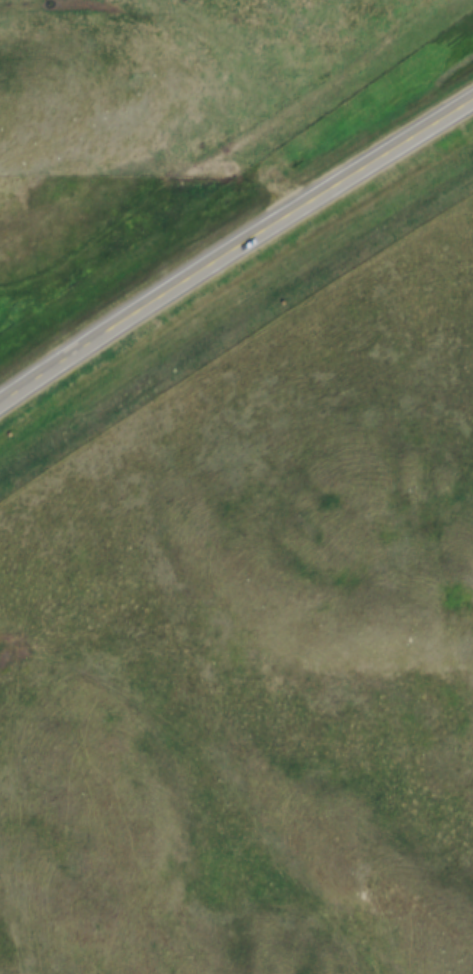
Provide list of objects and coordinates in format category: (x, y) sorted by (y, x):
road: (234, 250)

